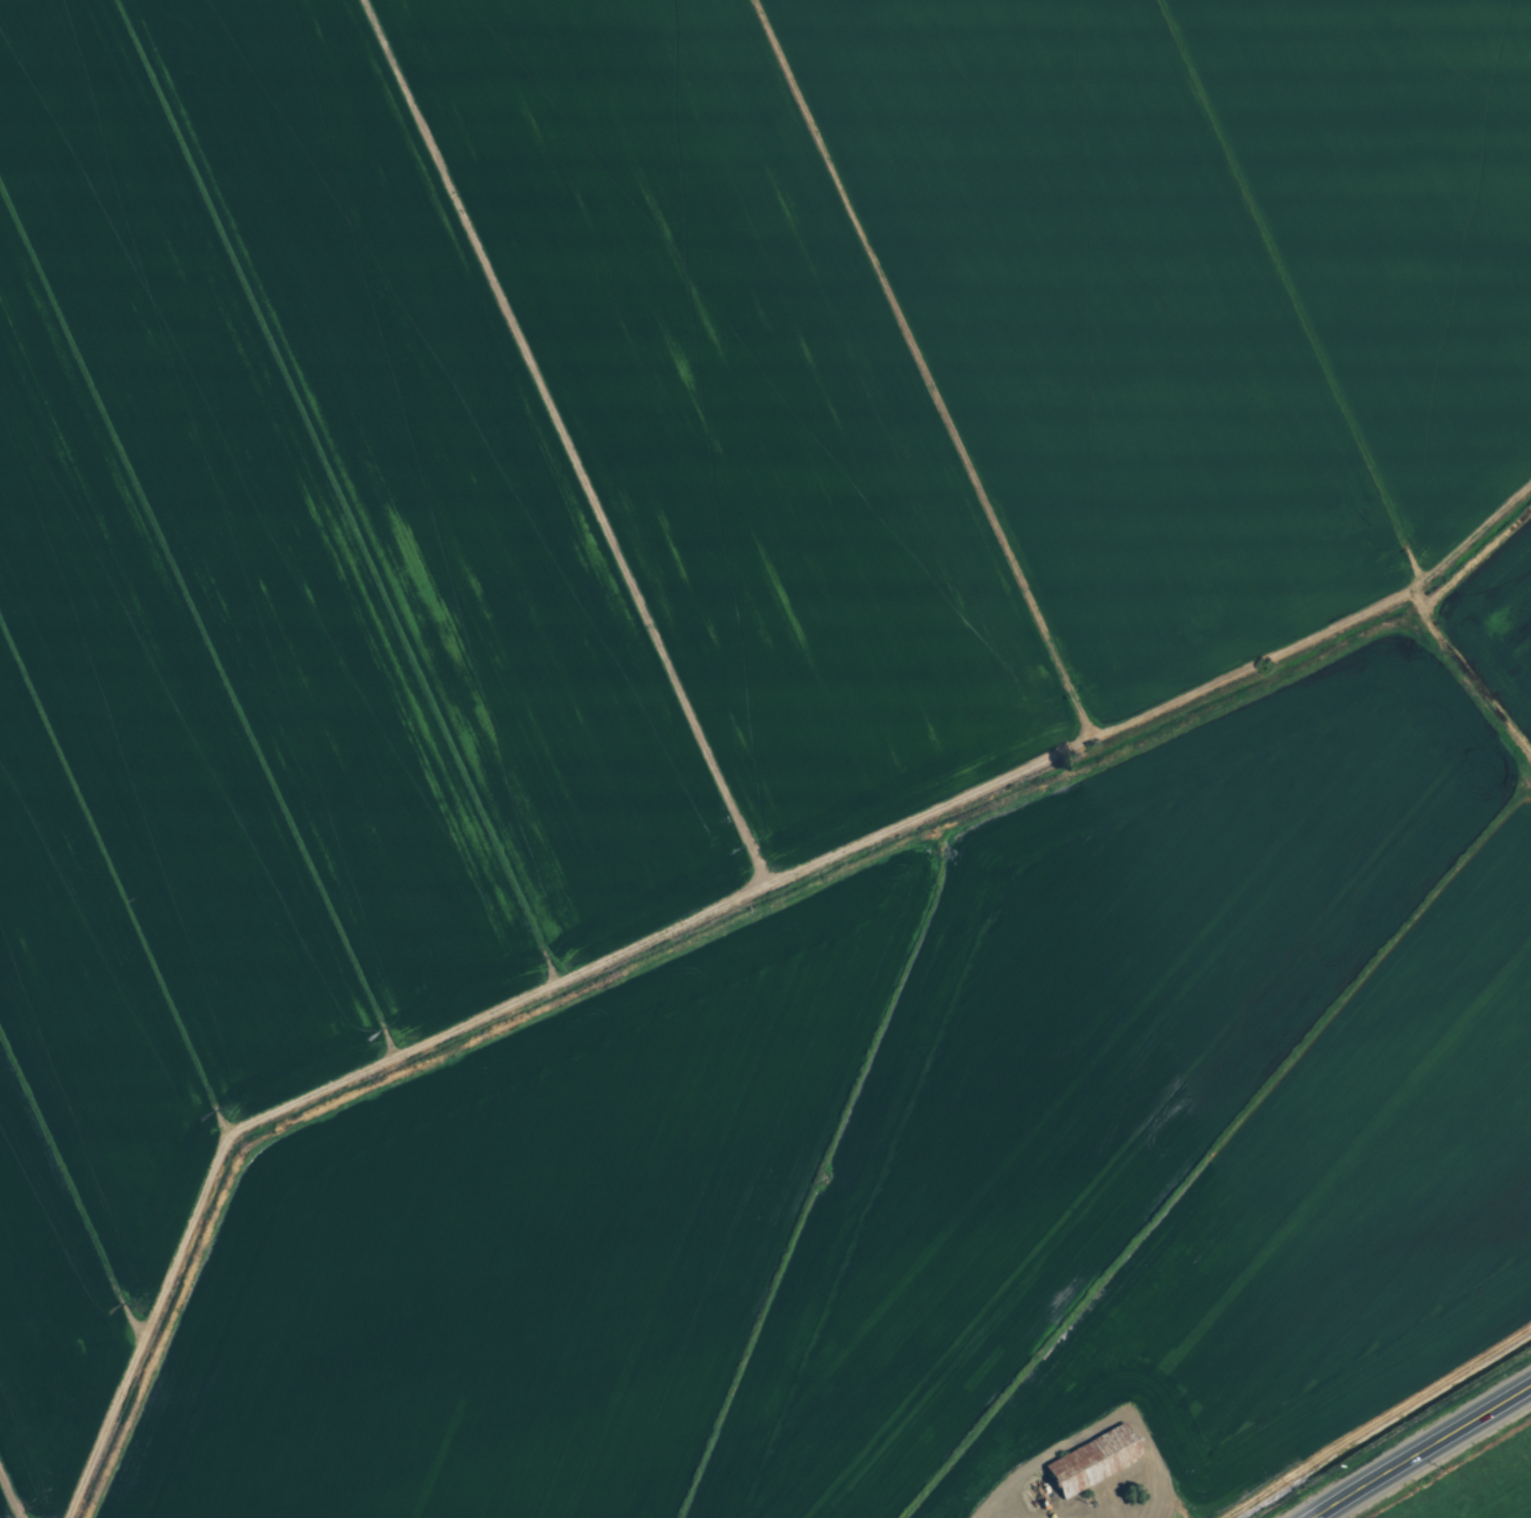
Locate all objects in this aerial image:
road: (1419, 1450)
building: (1094, 1462)

